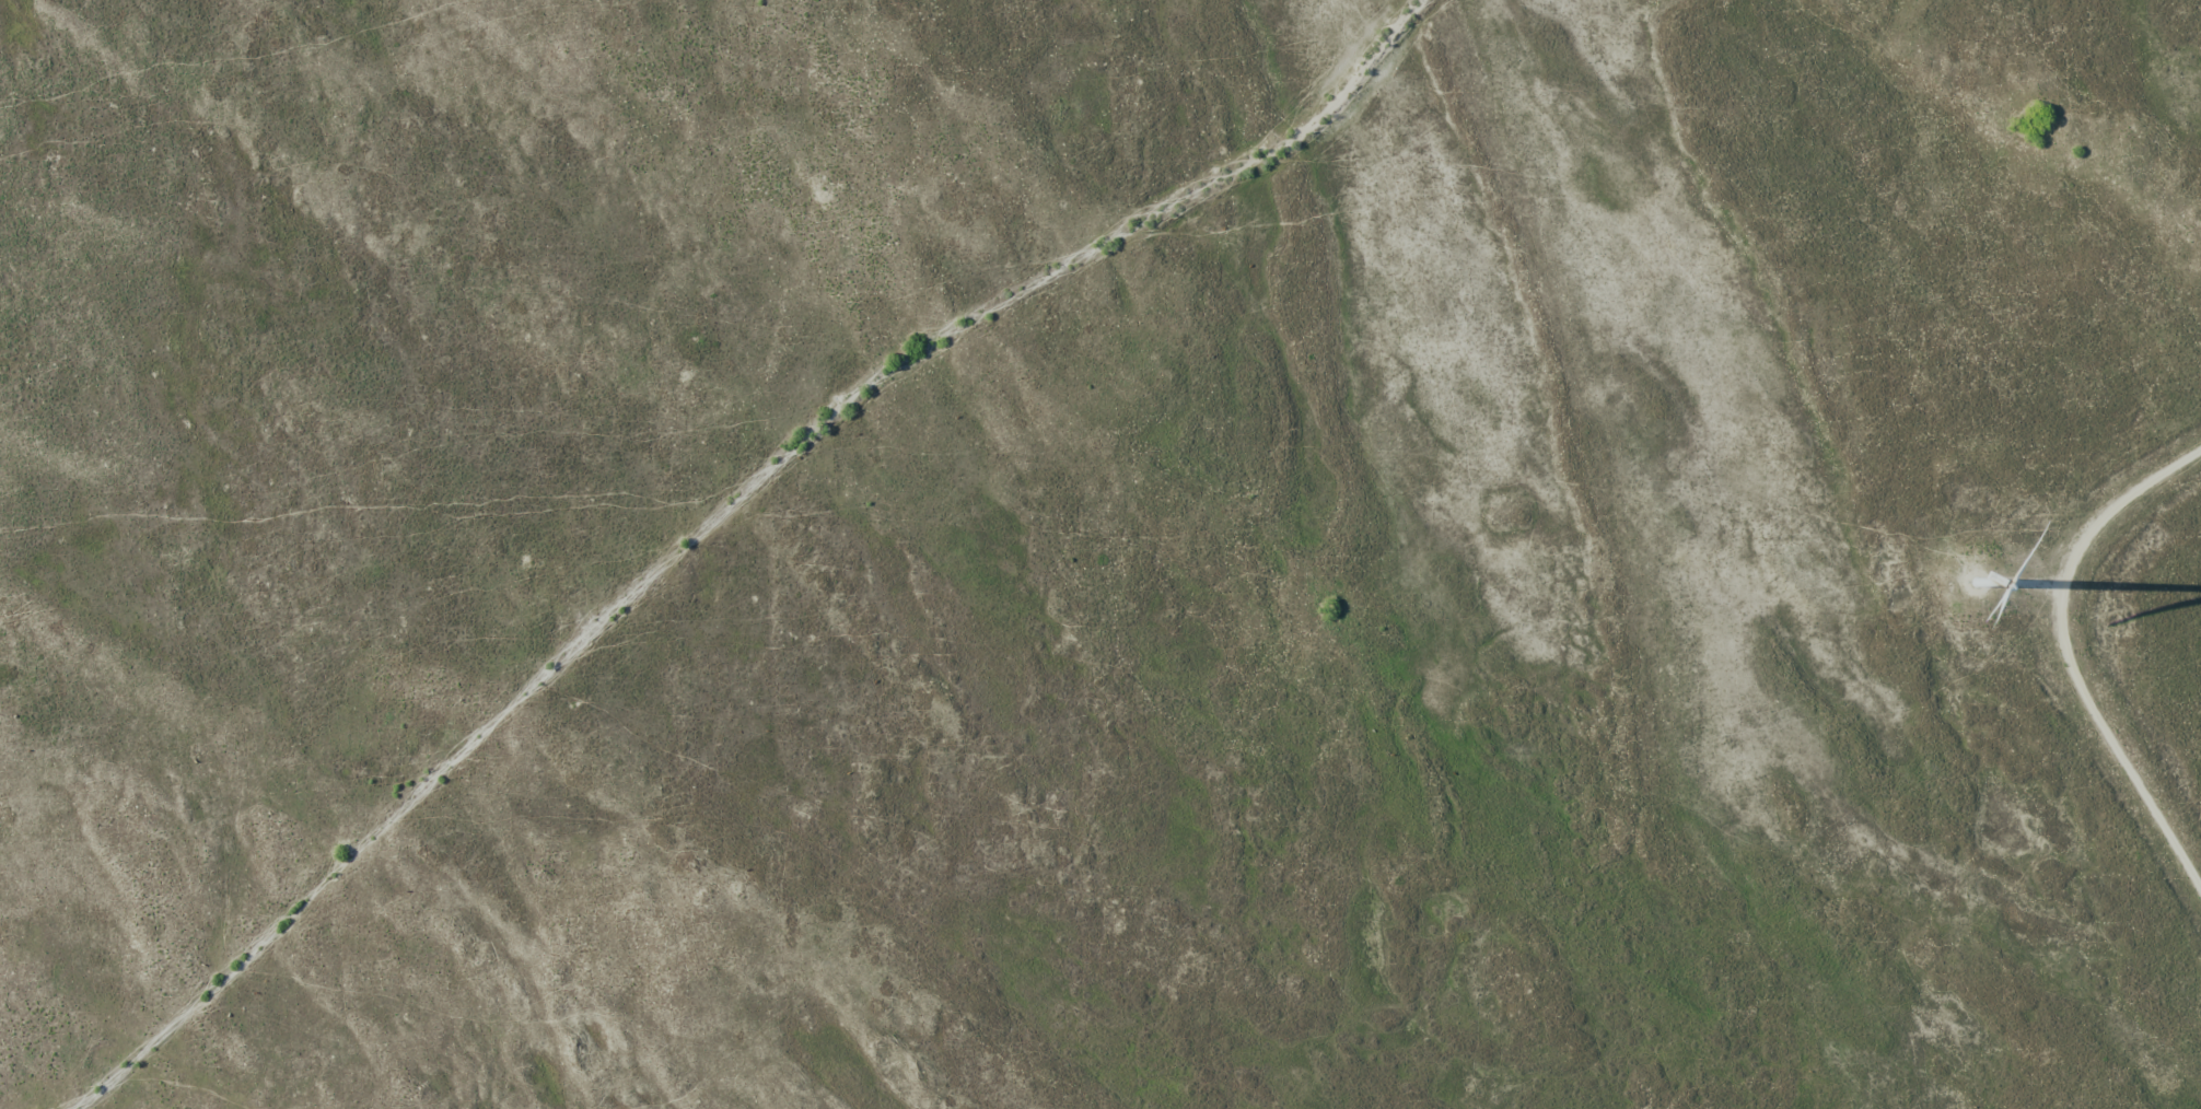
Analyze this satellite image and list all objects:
wind turbine: (1984, 586)

